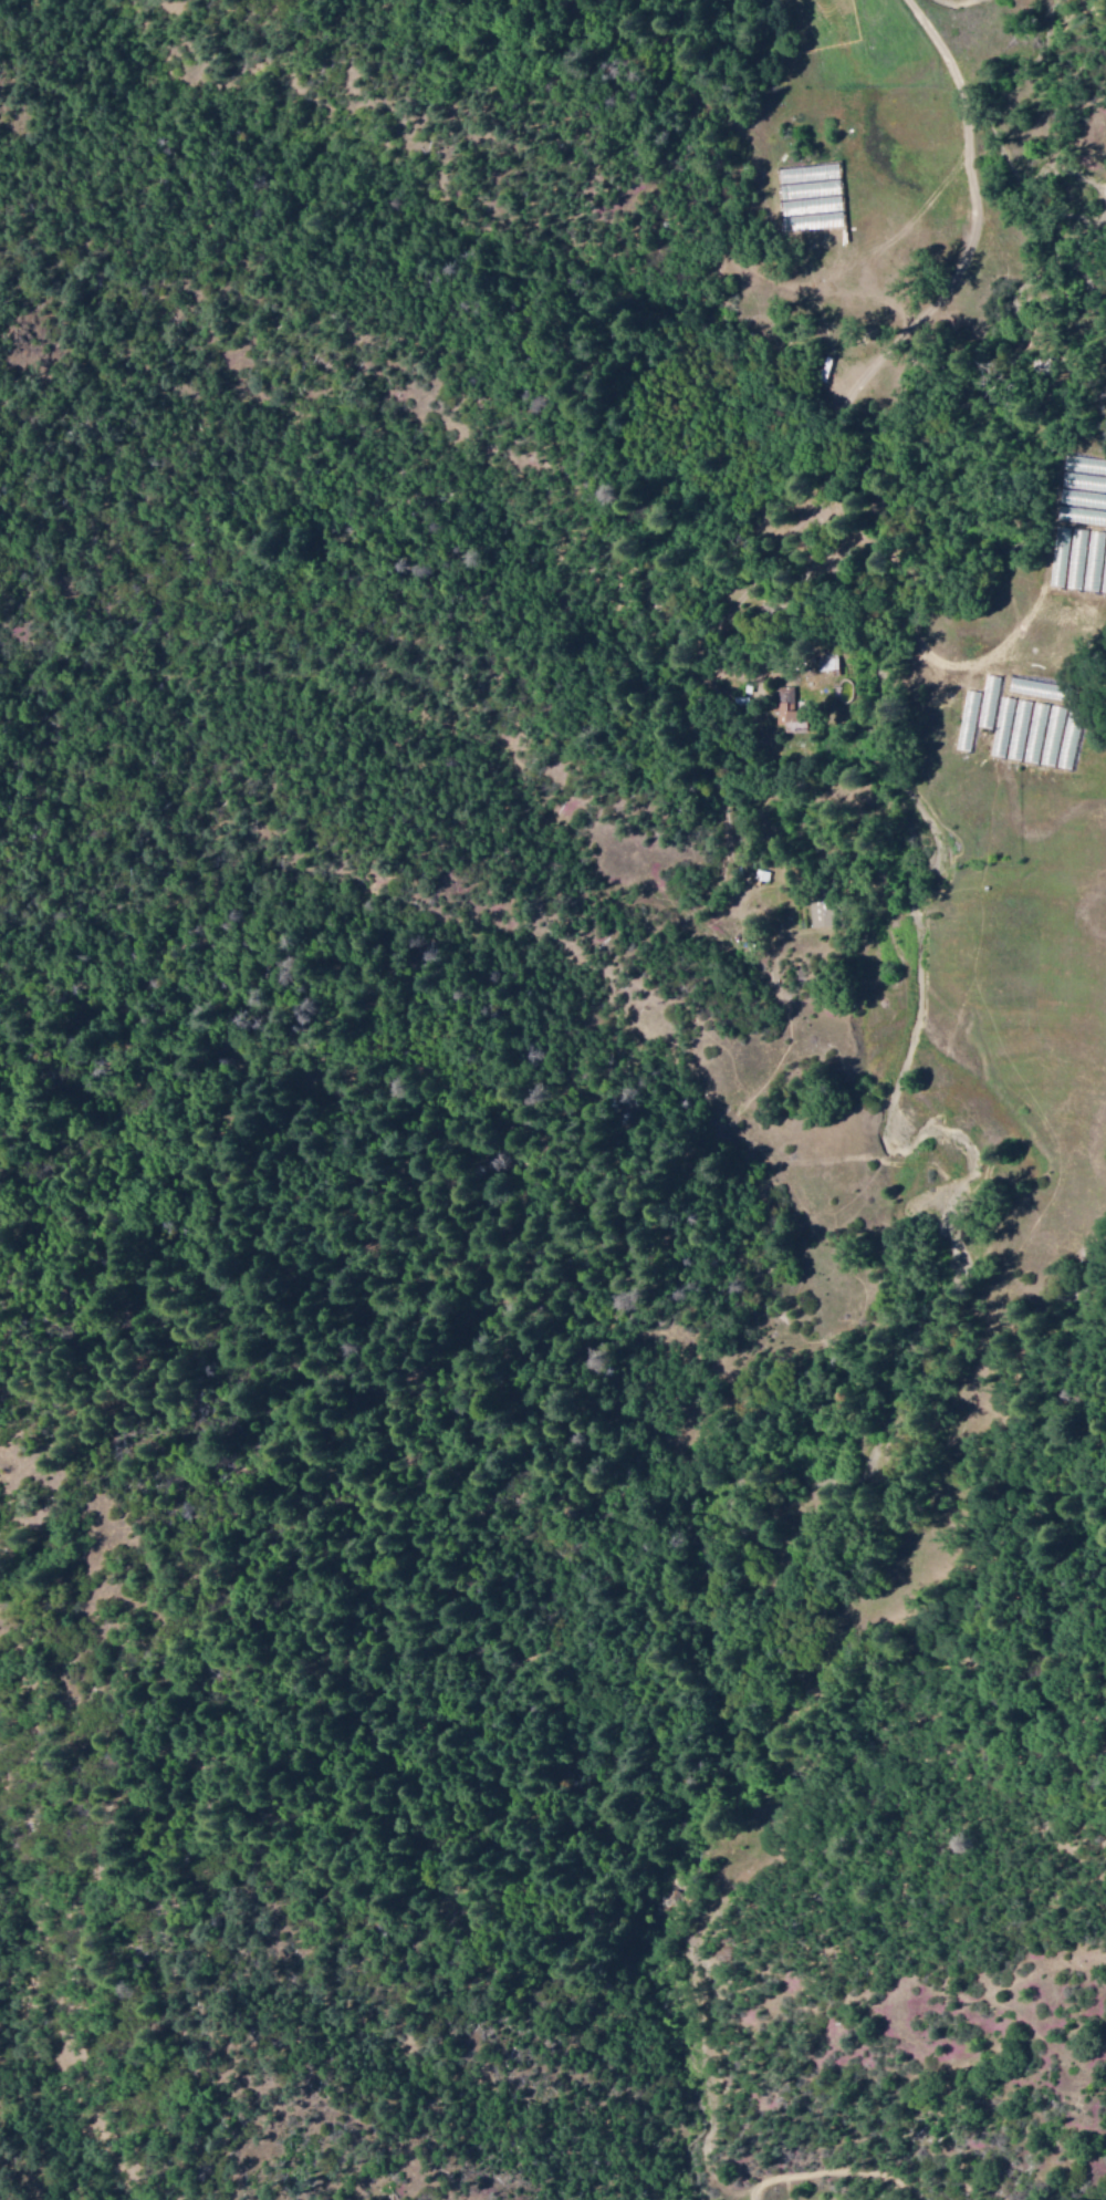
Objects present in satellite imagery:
road: (1100, 8)
building: (789, 712)
building: (821, 914)
road: (818, 2173)

